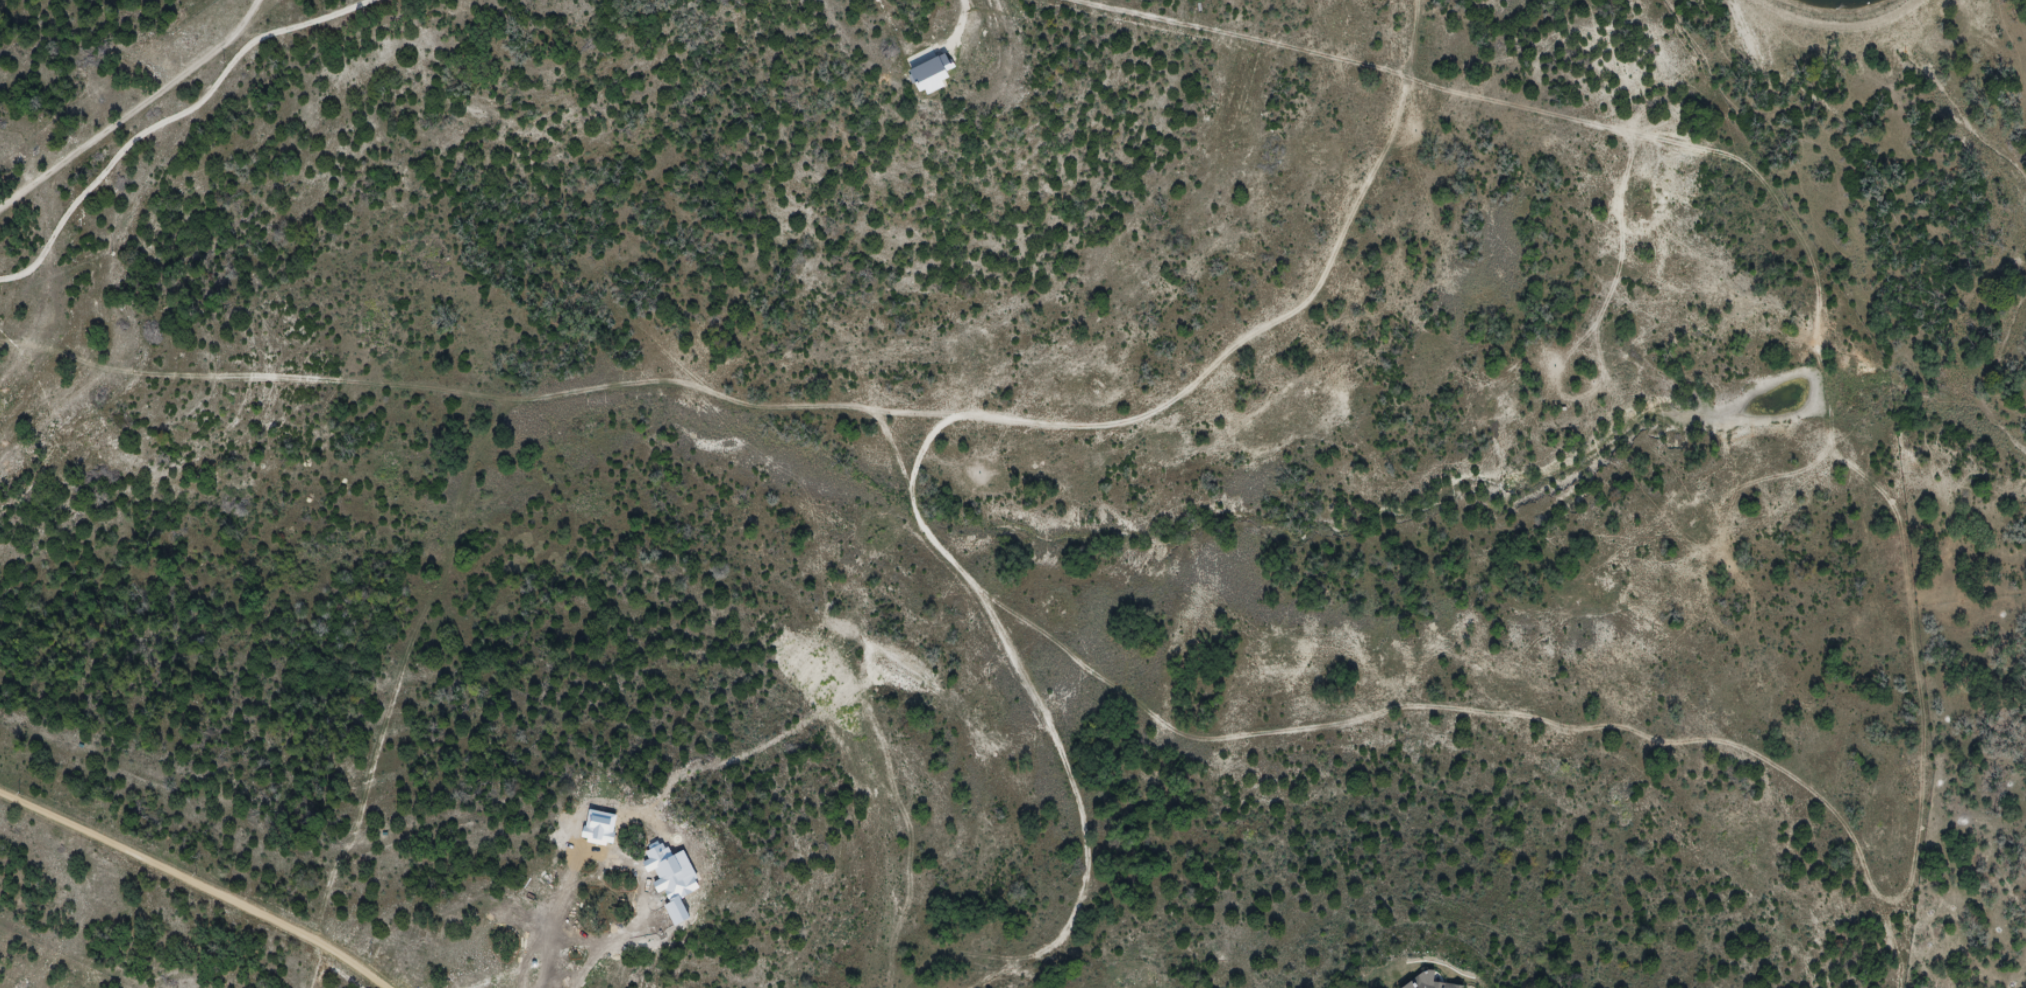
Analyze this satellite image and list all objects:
road: (964, 22)
road: (133, 109)
road: (171, 117)
road: (953, 429)
building: (1428, 983)

